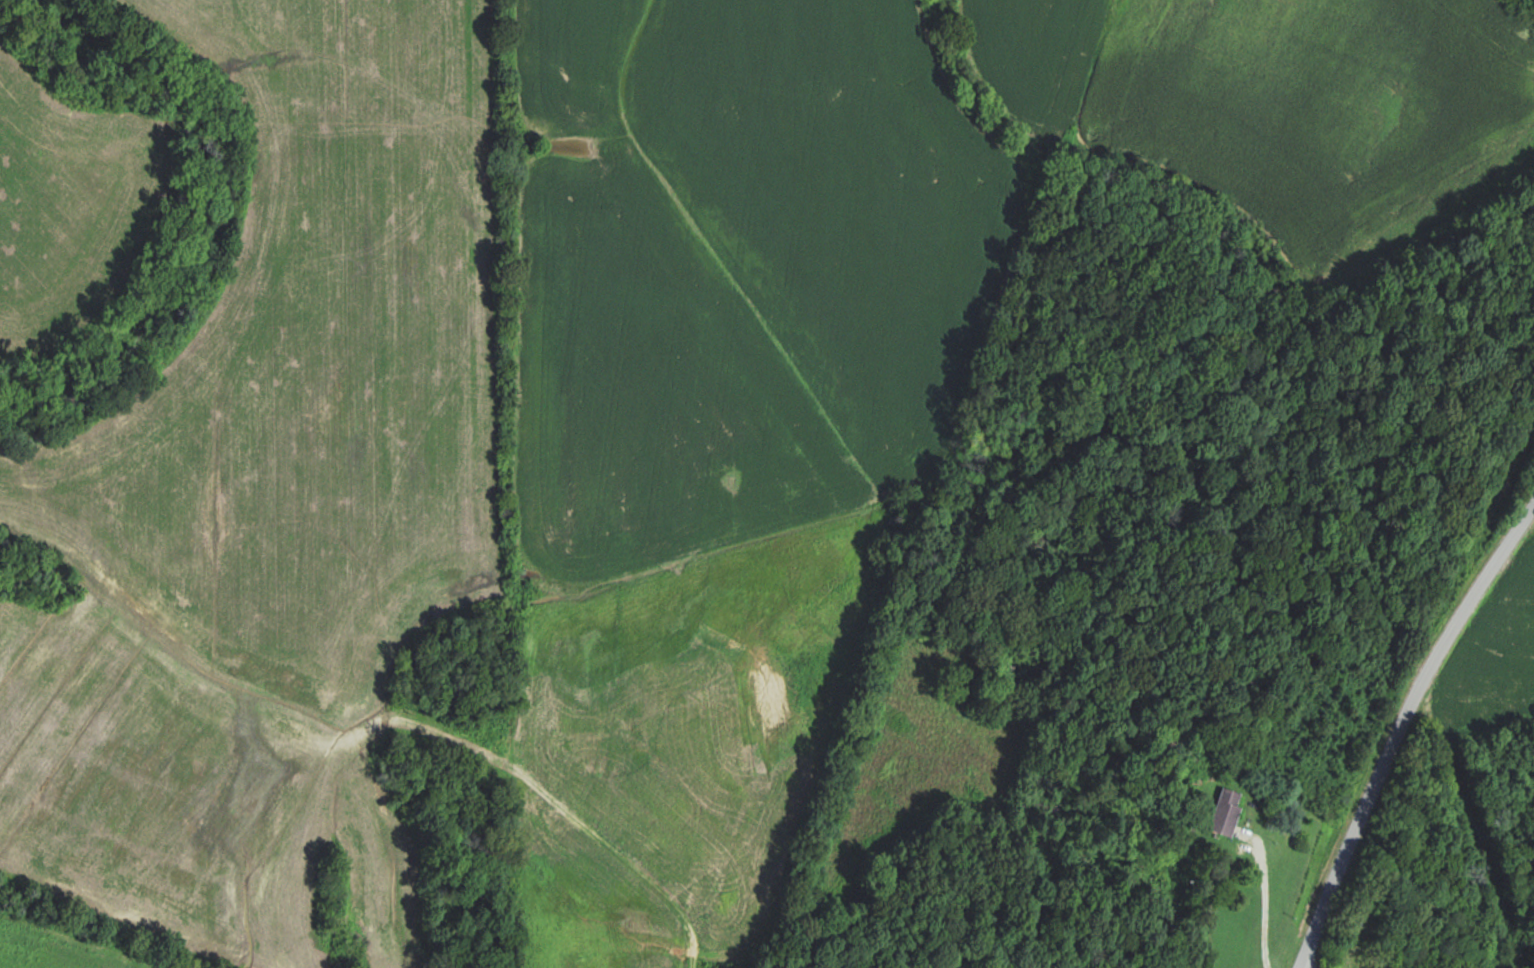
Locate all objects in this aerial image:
road: (1401, 728)
building: (1225, 812)
building: (1367, 964)

